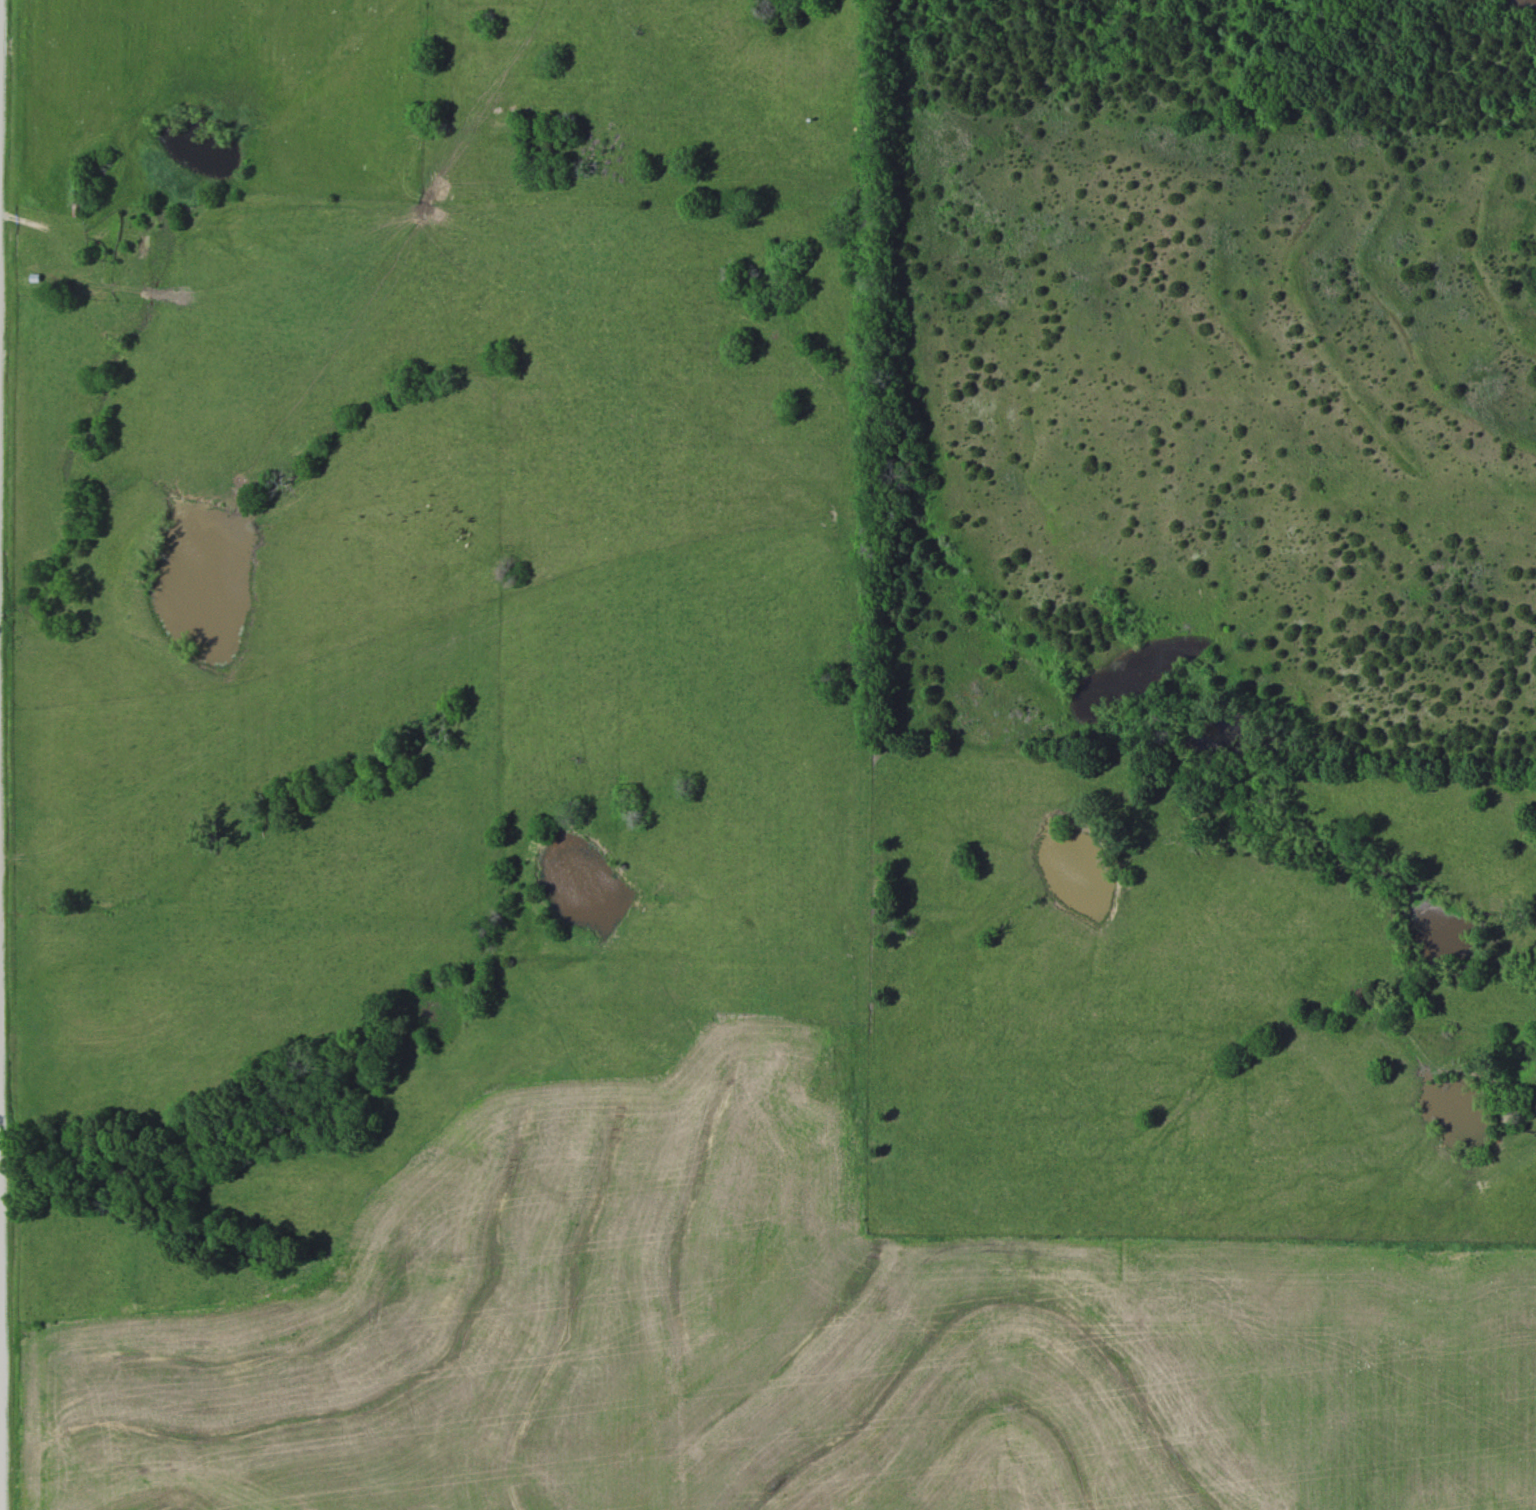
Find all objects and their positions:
road: (0, 71)
road: (2, 1214)

